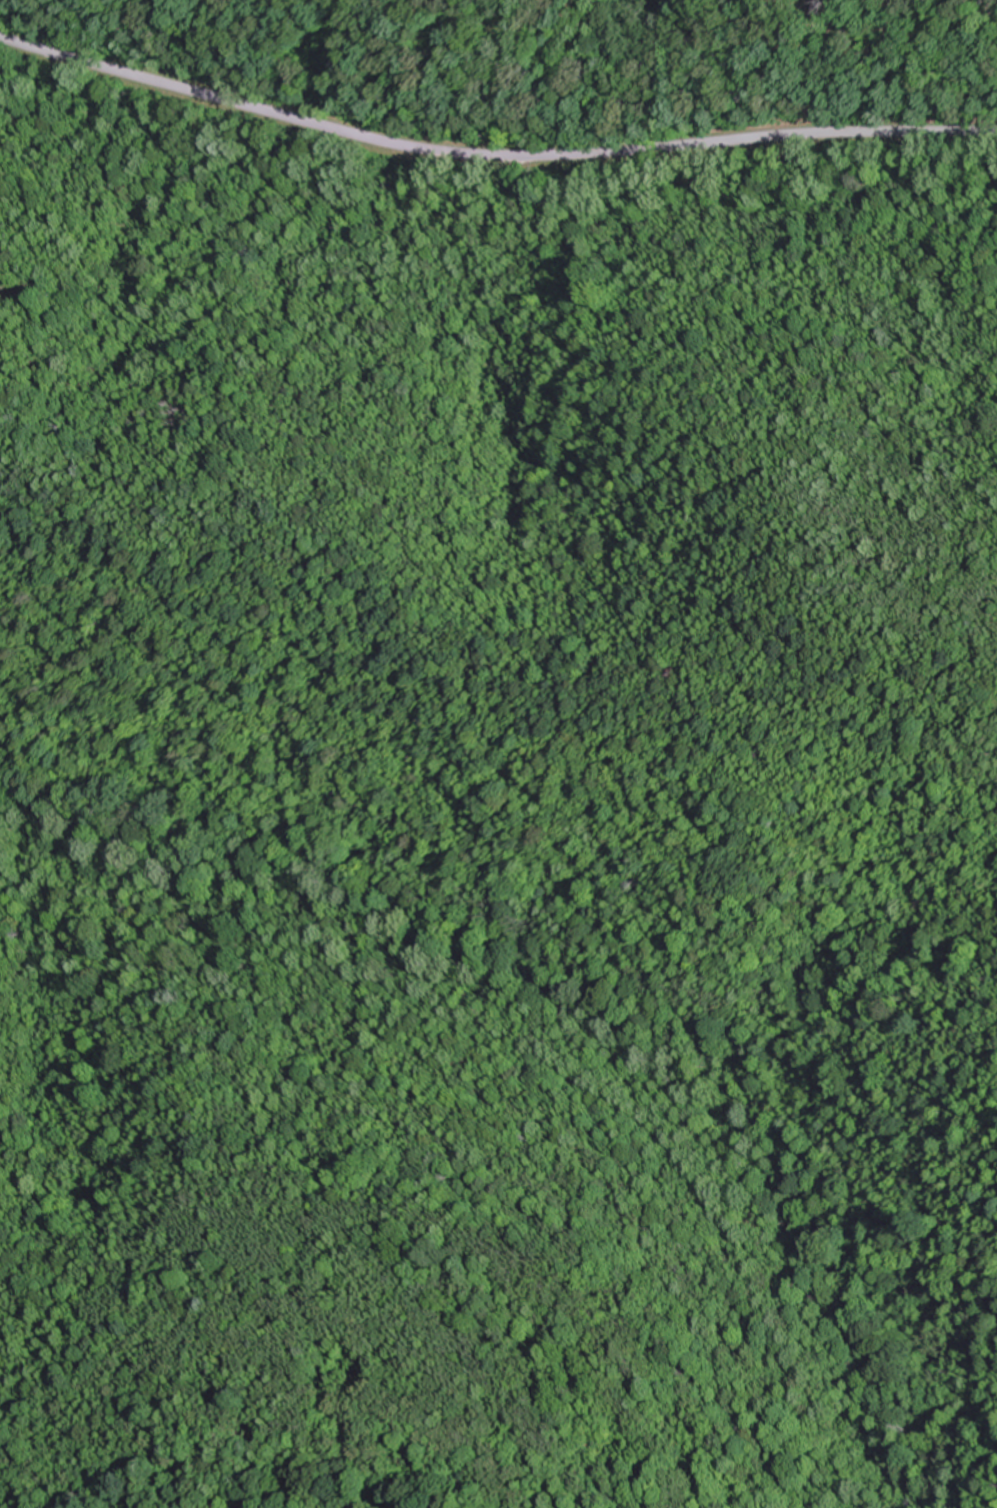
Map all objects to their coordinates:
road: (491, 153)

